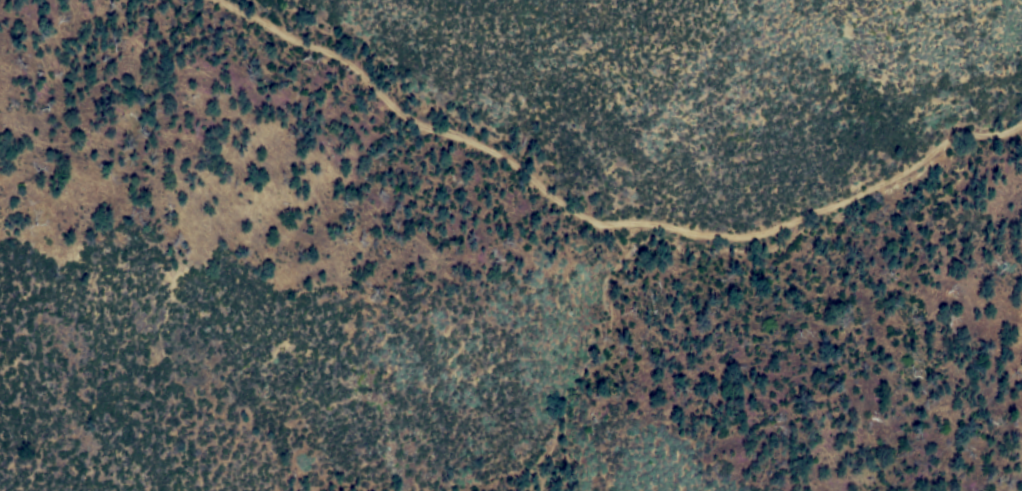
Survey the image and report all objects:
road: (598, 220)

